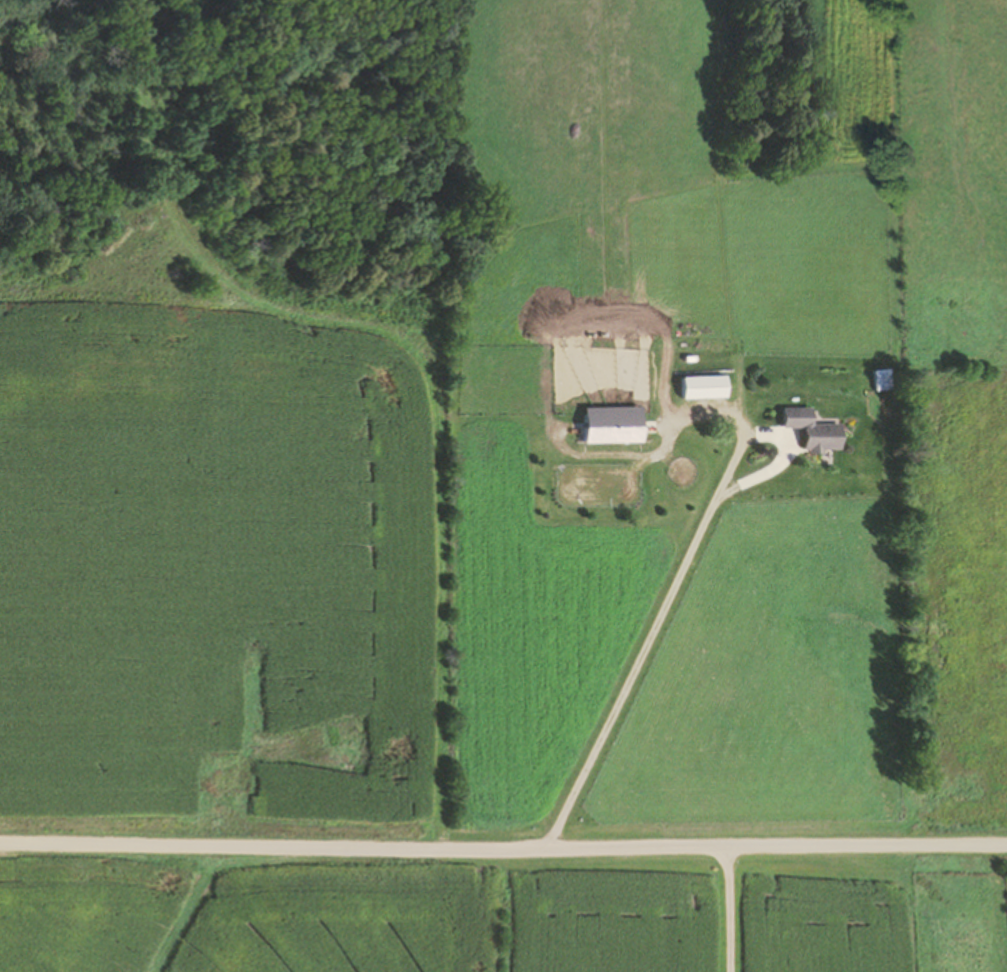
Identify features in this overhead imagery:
building: (877, 380)
building: (696, 388)
building: (605, 425)
building: (805, 431)
road: (503, 842)
road: (681, 906)

